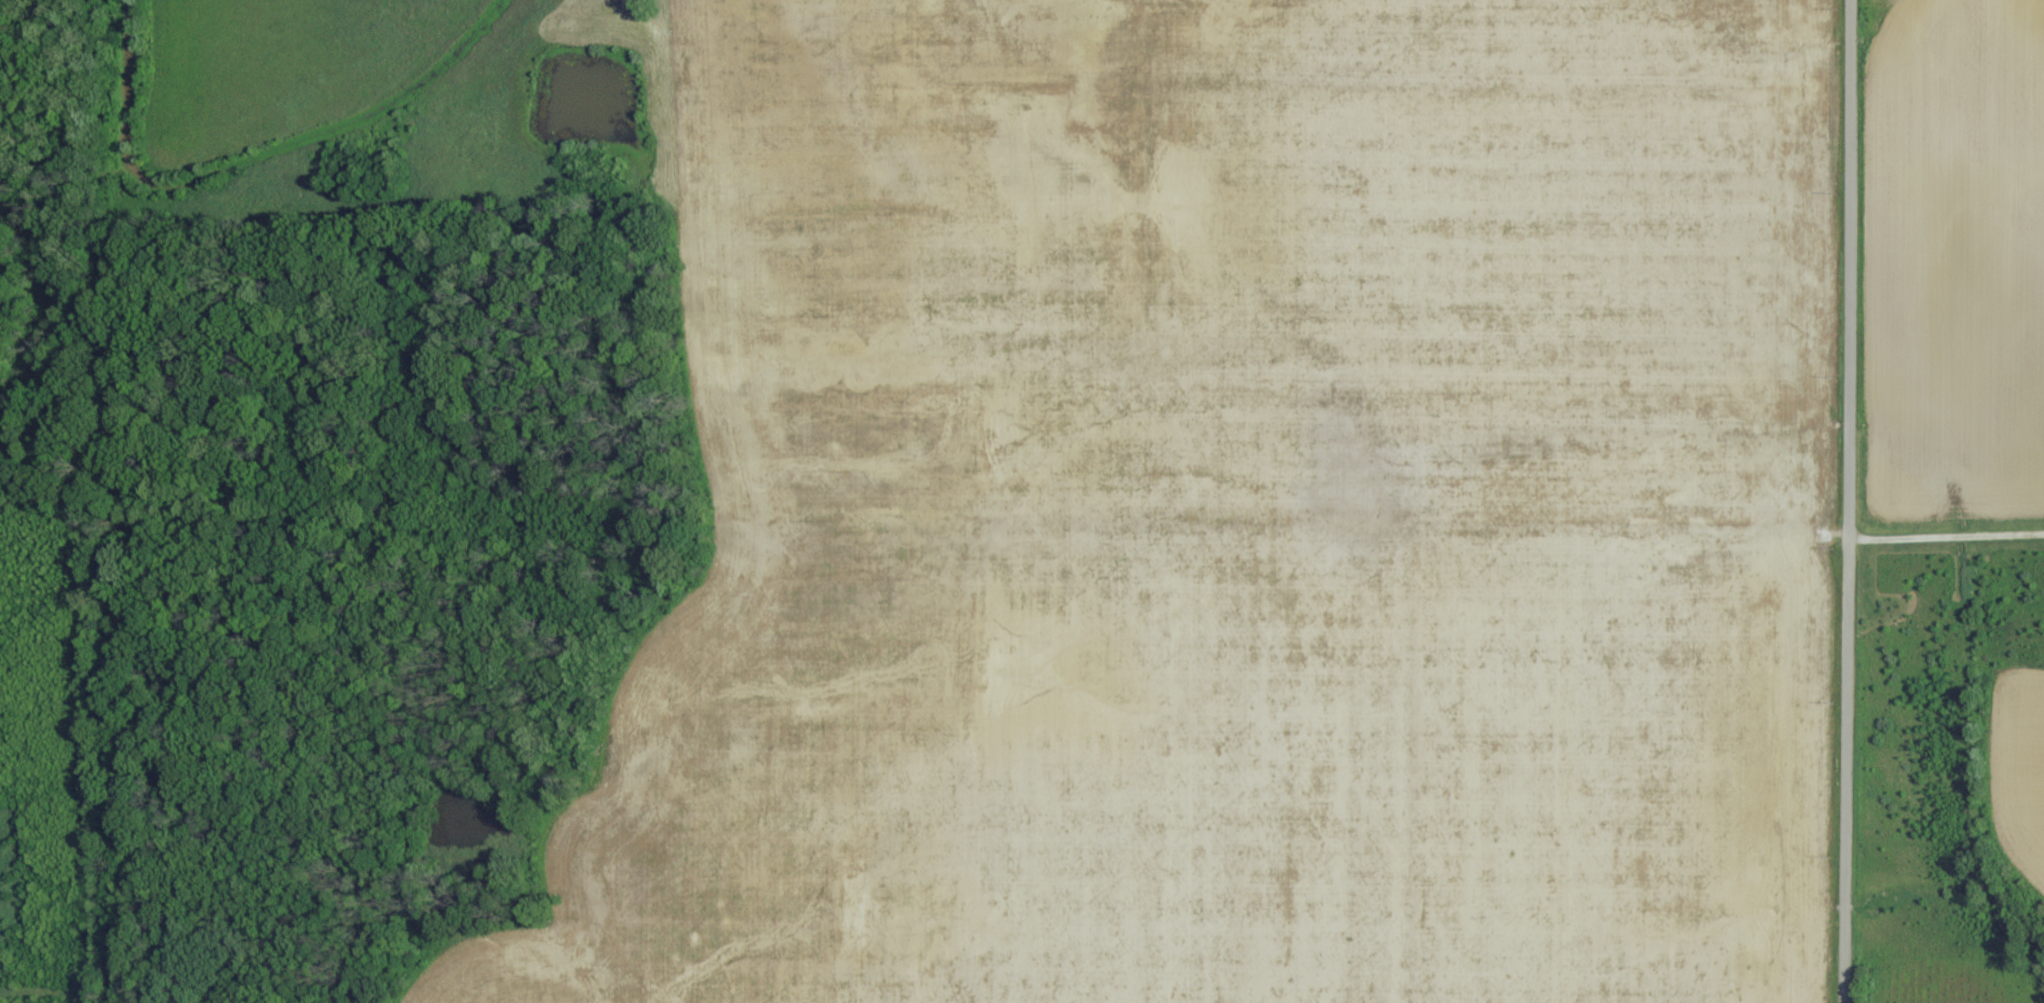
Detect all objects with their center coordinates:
road: (1848, 501)
road: (1946, 535)

